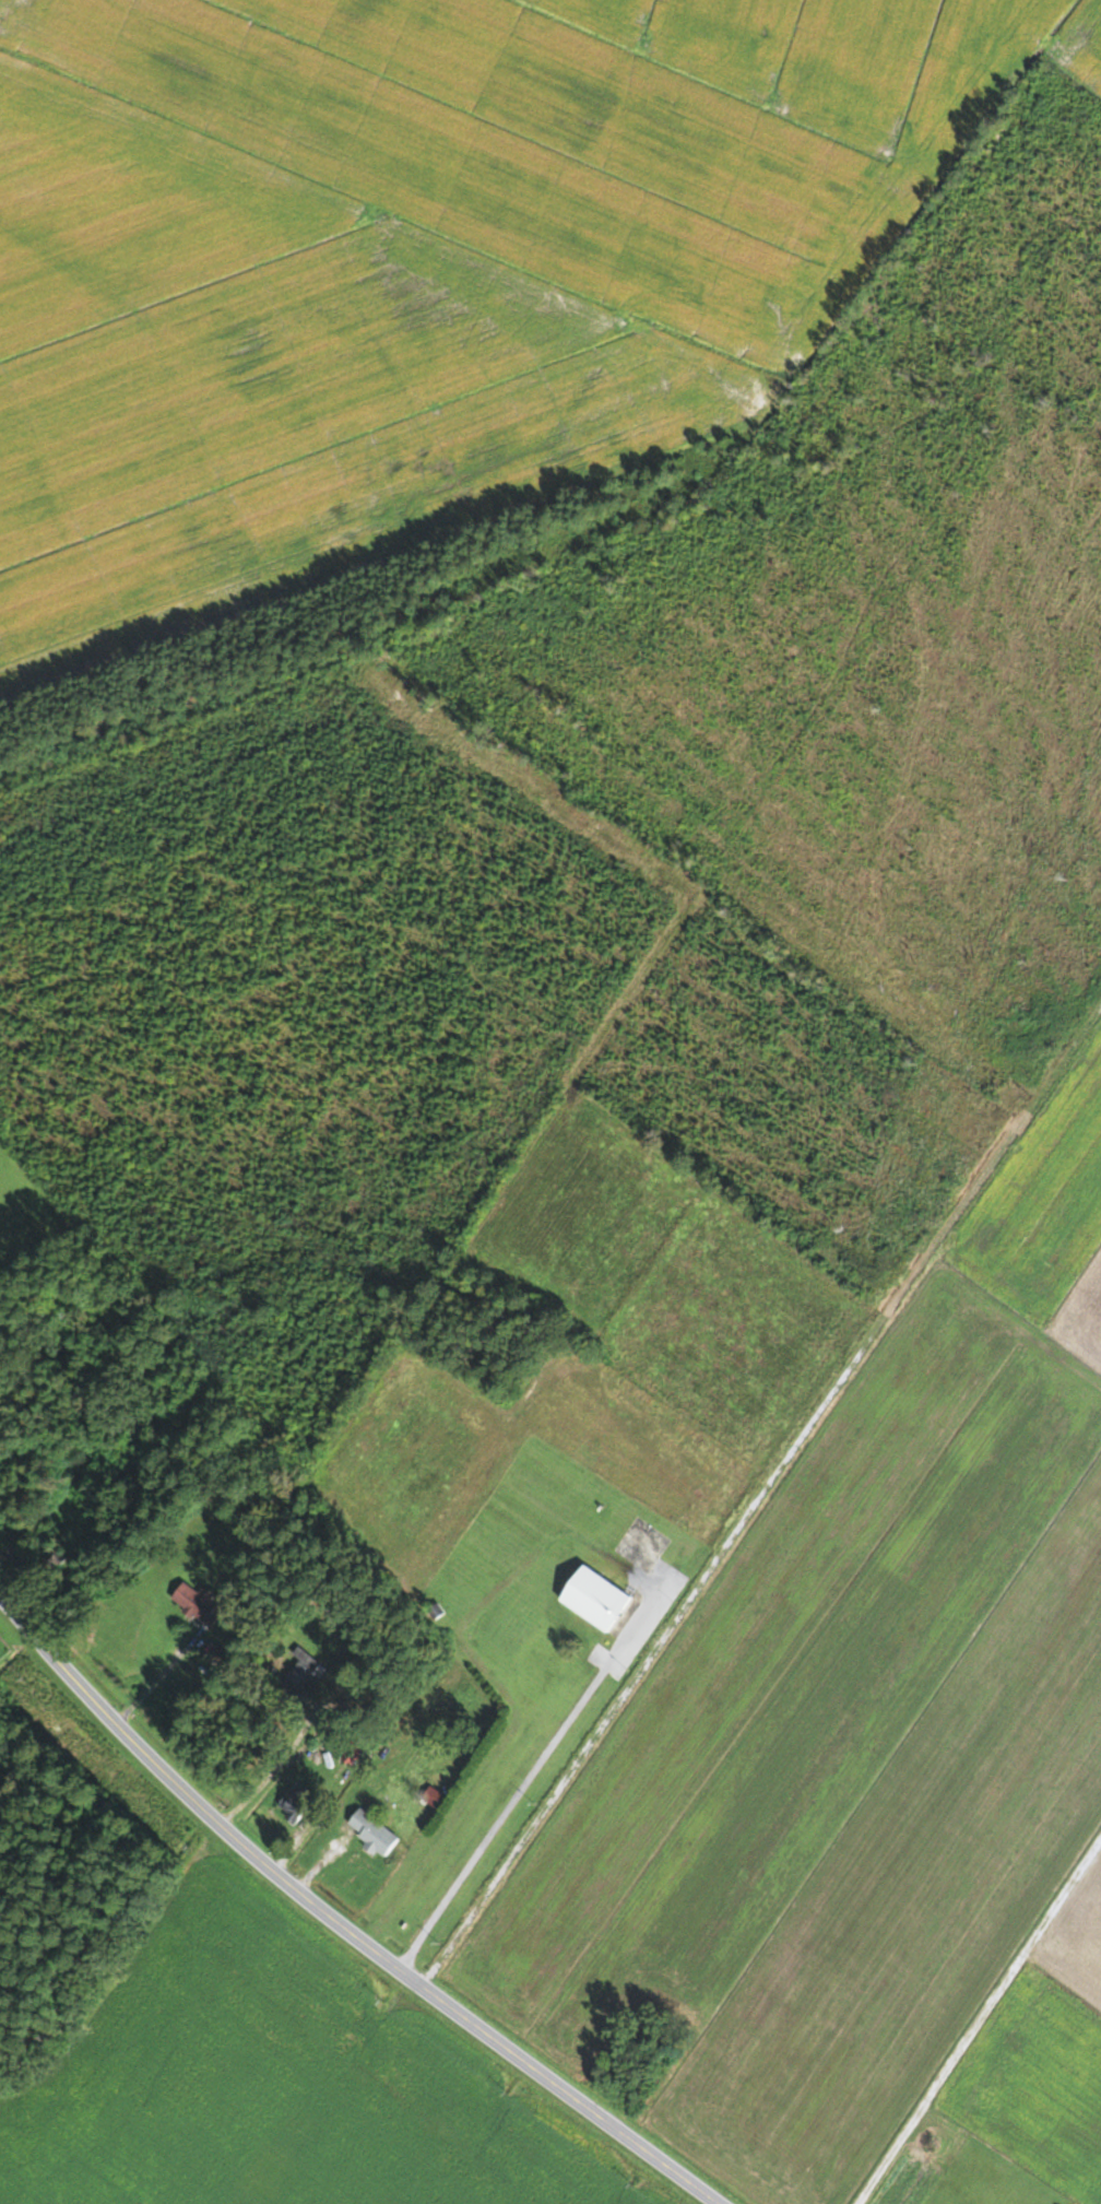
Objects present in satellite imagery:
building: (596, 1598)
building: (196, 1603)
building: (436, 1612)
building: (304, 1667)
building: (431, 1795)
building: (296, 1802)
building: (374, 1832)
road: (332, 1925)
road: (980, 2025)

